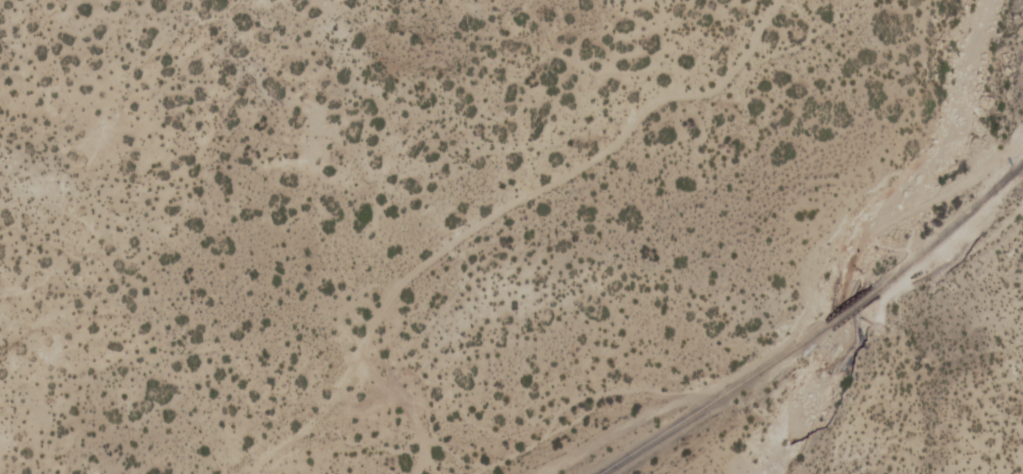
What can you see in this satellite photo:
railway: (949, 226)
river: (862, 231)
railway: (846, 308)
railway: (711, 402)

